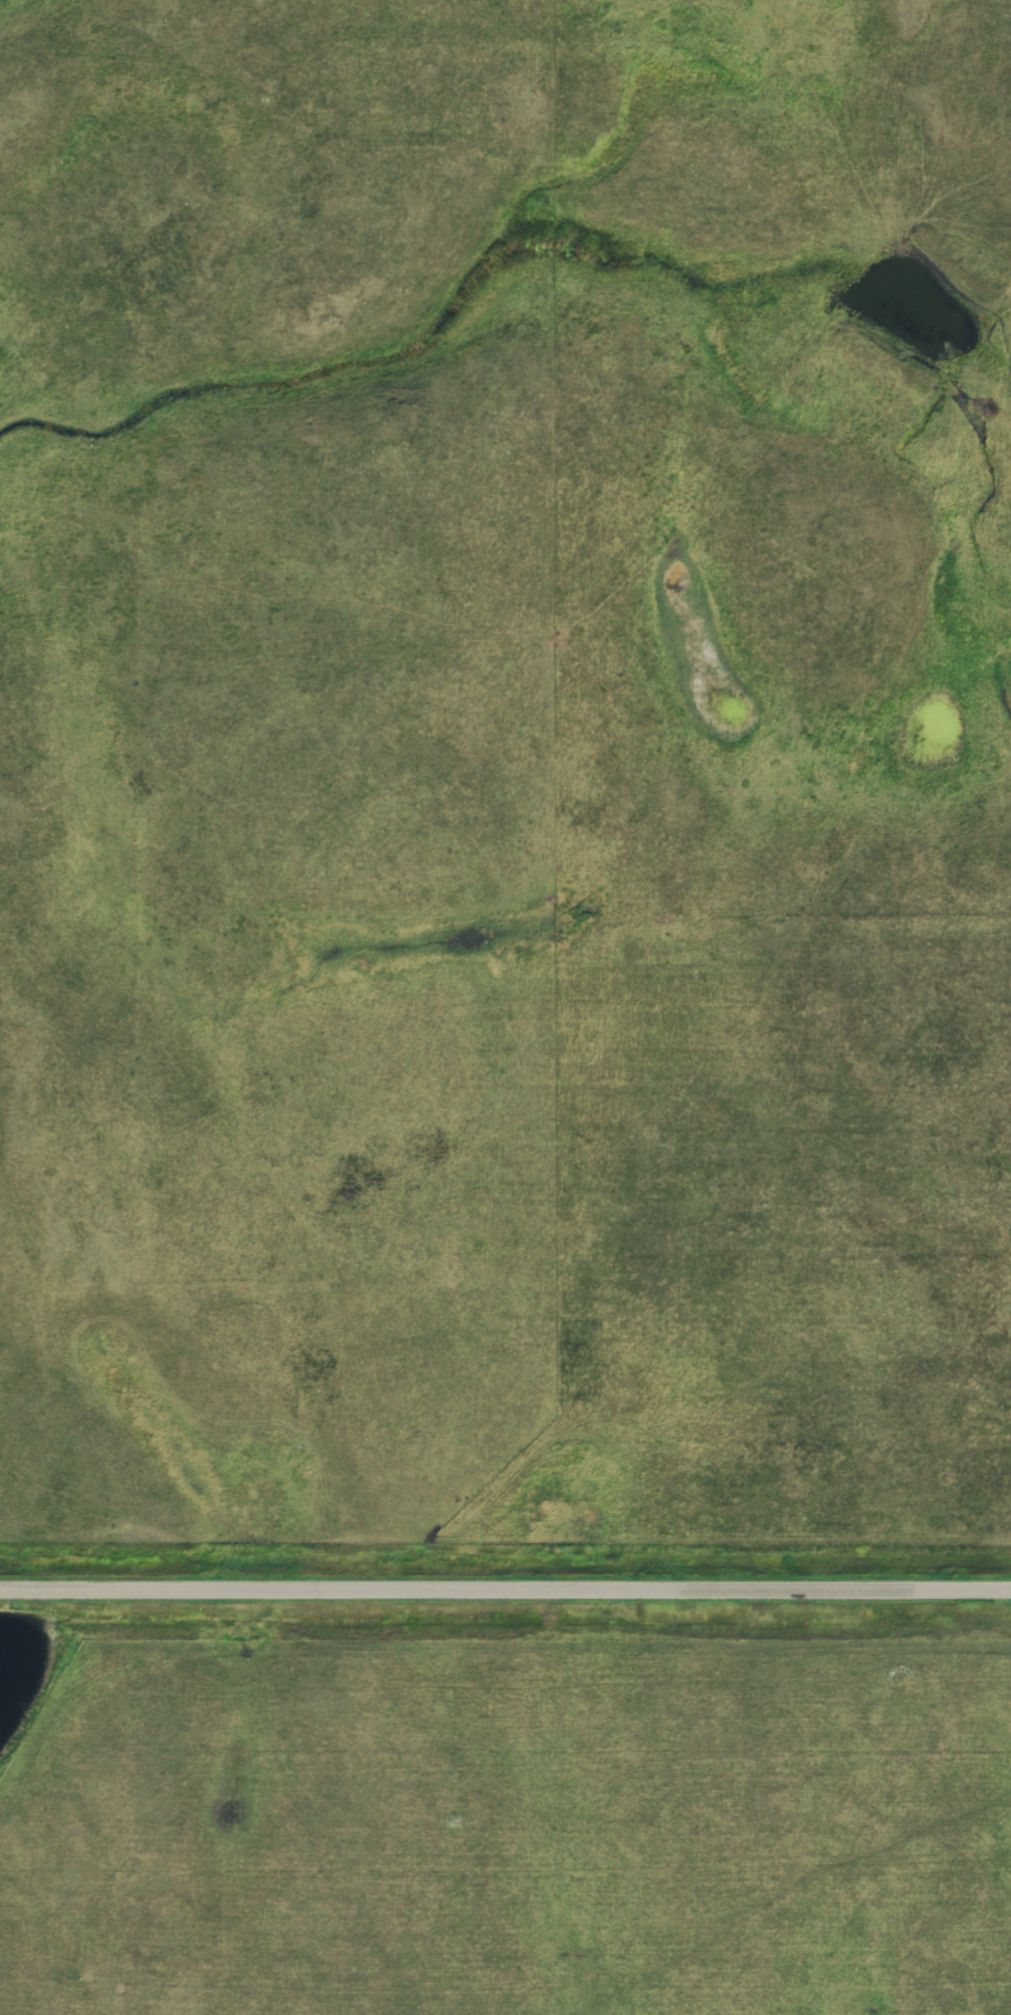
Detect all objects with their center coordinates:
road: (505, 1585)

